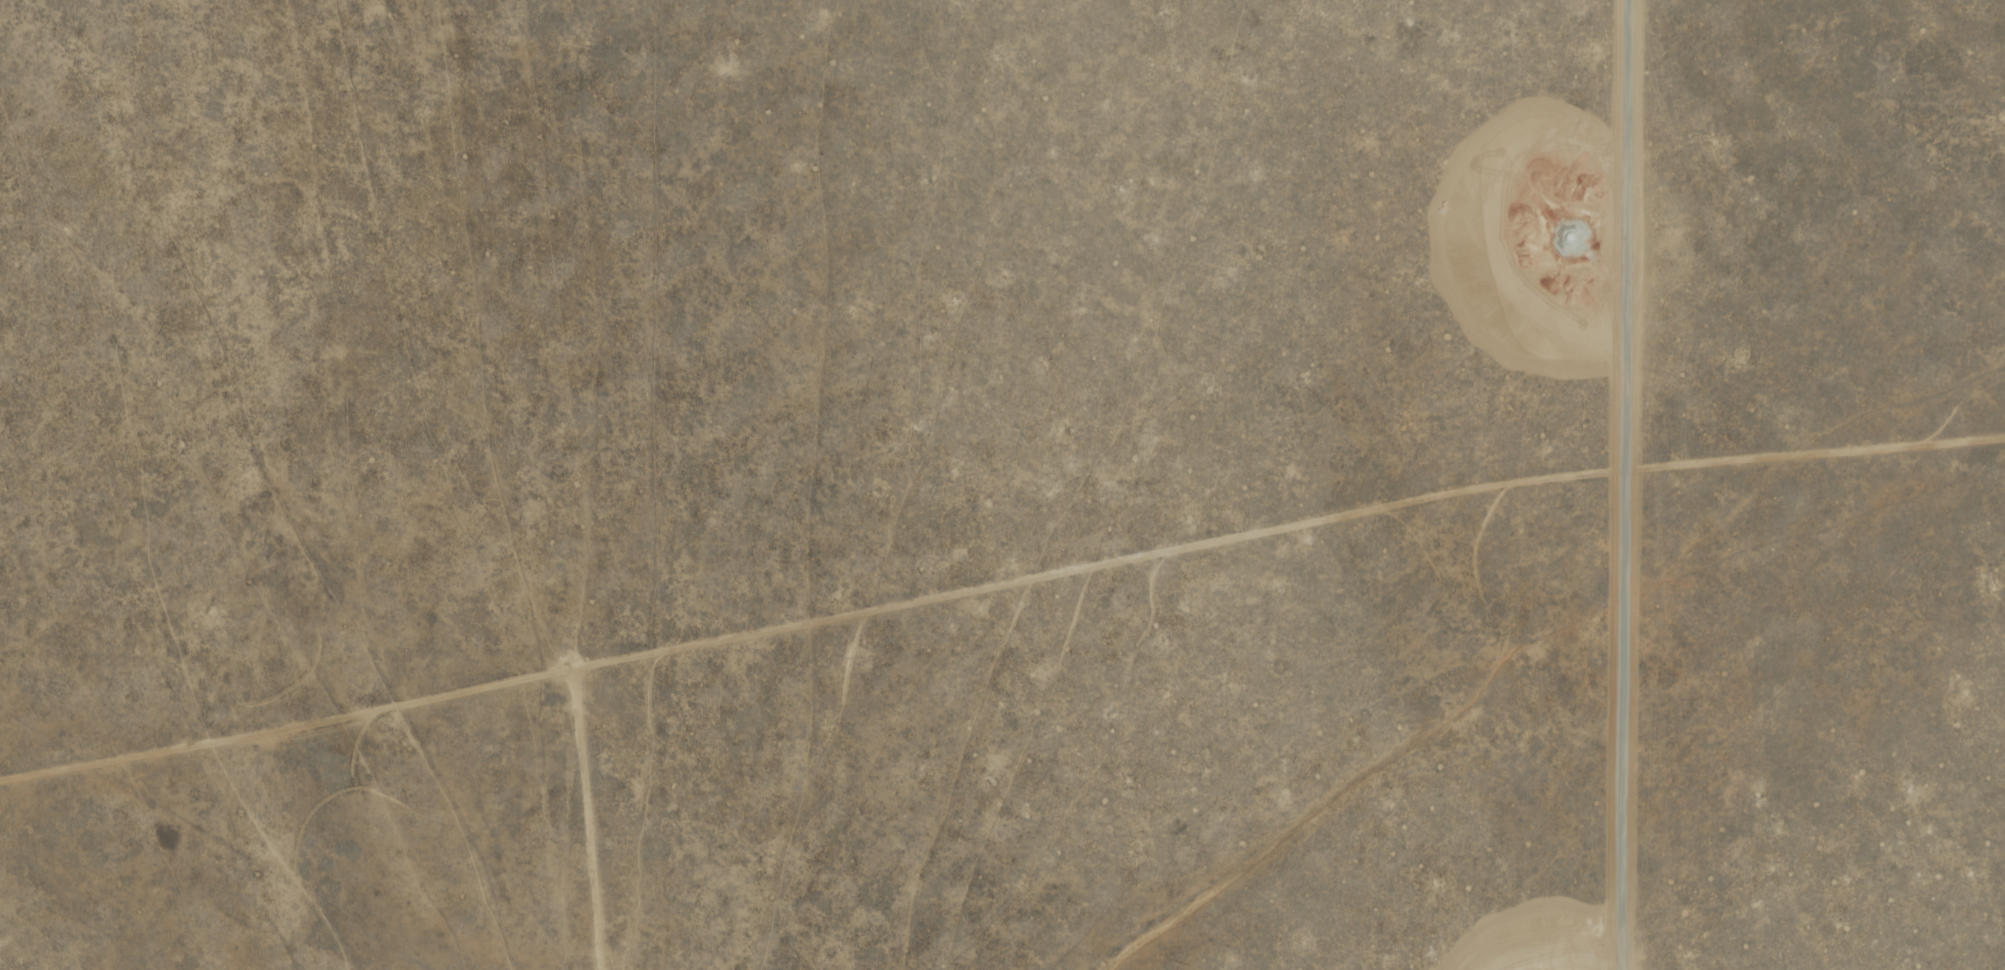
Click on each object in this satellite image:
wind turbine: (1558, 229)

